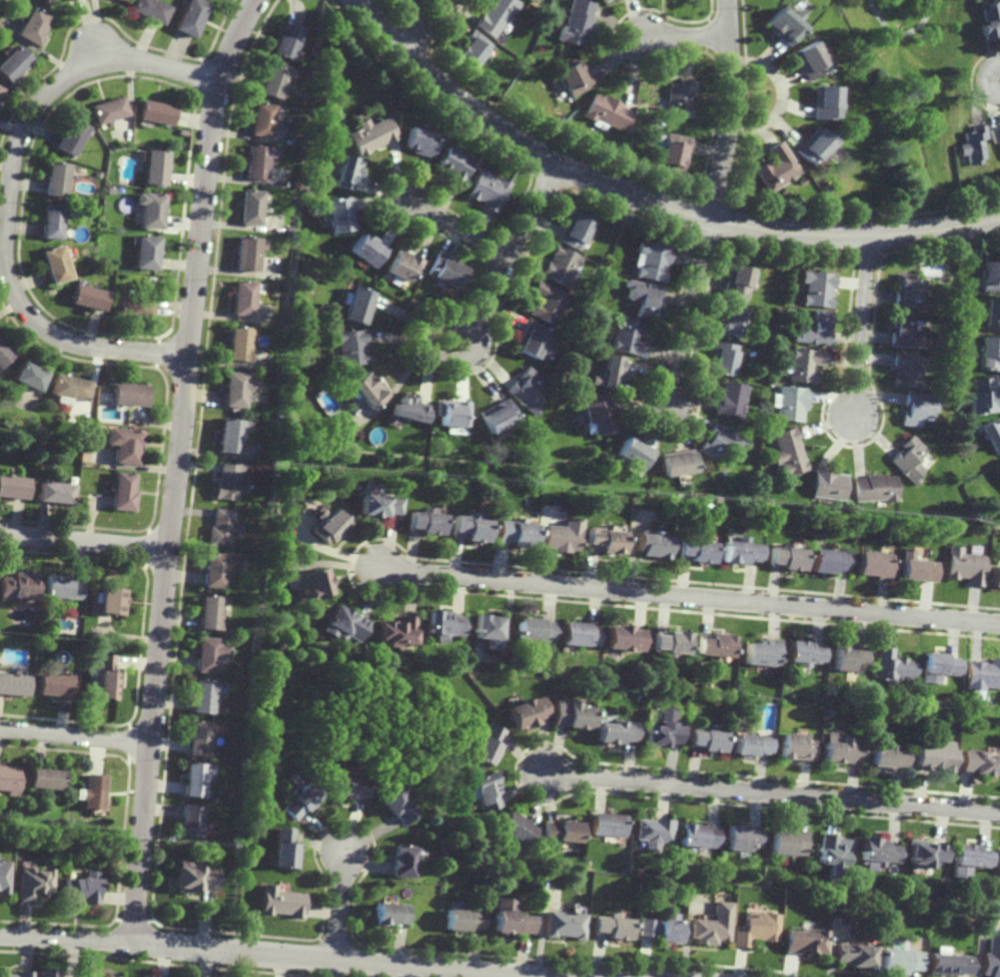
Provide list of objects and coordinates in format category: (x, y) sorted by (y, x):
building: (68, 0)
building: (121, 0)
building: (44, 1)
building: (603, 1)
building: (149, 9)
building: (497, 15)
building: (190, 16)
building: (989, 21)
building: (575, 23)
road: (425, 25)
building: (782, 25)
building: (32, 27)
road: (903, 34)
road: (688, 36)
building: (285, 41)
building: (473, 49)
building: (312, 53)
building: (807, 61)
building: (13, 63)
building: (573, 77)
building: (271, 80)
road: (990, 81)
building: (509, 85)
building: (0, 87)
building: (0, 89)
building: (306, 94)
building: (559, 95)
road: (779, 95)
building: (680, 99)
park: (912, 99)
building: (822, 102)
building: (106, 109)
building: (155, 111)
building: (562, 112)
building: (607, 114)
building: (673, 119)
building: (259, 120)
building: (672, 124)
building: (995, 134)
building: (69, 136)
building: (369, 136)
building: (301, 141)
building: (420, 142)
building: (812, 146)
building: (973, 146)
building: (673, 152)
building: (255, 162)
building: (455, 165)
building: (154, 167)
building: (776, 168)
building: (345, 174)
building: (55, 179)
building: (801, 182)
building: (825, 186)
building: (786, 188)
building: (304, 190)
building: (489, 192)
road: (9, 196)
road: (646, 201)
road: (713, 204)
building: (249, 208)
building: (149, 210)
building: (337, 216)
building: (52, 218)
road: (458, 229)
building: (289, 230)
building: (573, 232)
road: (514, 244)
building: (146, 252)
building: (366, 252)
building: (245, 255)
building: (55, 264)
building: (650, 264)
building: (404, 268)
building: (560, 268)
building: (448, 272)
building: (990, 278)
building: (736, 284)
building: (817, 289)
building: (908, 293)
building: (89, 297)
building: (241, 297)
building: (642, 301)
building: (546, 302)
building: (135, 303)
building: (357, 306)
building: (991, 317)
building: (272, 320)
building: (729, 320)
road: (861, 325)
building: (815, 328)
building: (903, 332)
building: (533, 337)
building: (626, 337)
building: (237, 341)
building: (349, 344)
building: (4, 353)
road: (428, 354)
building: (988, 354)
building: (721, 356)
building: (803, 363)
building: (907, 368)
building: (608, 370)
building: (572, 375)
building: (27, 376)
building: (235, 386)
building: (69, 387)
building: (368, 388)
building: (526, 389)
building: (127, 393)
building: (981, 393)
building: (730, 398)
building: (790, 402)
building: (408, 407)
building: (918, 407)
building: (452, 410)
building: (496, 413)
building: (594, 413)
building: (229, 433)
building: (992, 433)
building: (718, 439)
building: (123, 444)
building: (630, 450)
building: (786, 450)
building: (908, 458)
building: (674, 460)
building: (924, 460)
road: (177, 465)
building: (998, 469)
building: (230, 479)
building: (827, 483)
building: (14, 486)
building: (874, 487)
building: (56, 491)
building: (123, 492)
building: (376, 503)
building: (423, 520)
building: (328, 524)
building: (469, 525)
building: (222, 527)
building: (516, 531)
building: (558, 537)
building: (599, 538)
road: (84, 544)
building: (649, 544)
building: (692, 549)
building: (736, 550)
building: (784, 557)
building: (827, 560)
building: (873, 564)
building: (964, 565)
building: (215, 569)
building: (917, 569)
building: (995, 576)
building: (314, 581)
building: (22, 584)
building: (65, 586)
road: (687, 597)
building: (112, 600)
building: (211, 612)
building: (341, 624)
building: (443, 624)
building: (533, 629)
building: (488, 630)
building: (397, 631)
building: (575, 634)
building: (622, 638)
building: (668, 642)
building: (713, 645)
building: (760, 653)
building: (803, 653)
building: (210, 654)
building: (849, 658)
building: (891, 666)
building: (937, 666)
building: (982, 674)
building: (108, 676)
building: (54, 682)
building: (13, 683)
building: (786, 689)
building: (833, 691)
building: (206, 695)
building: (526, 712)
building: (569, 715)
building: (614, 732)
building: (660, 735)
building: (199, 738)
road: (75, 739)
building: (706, 739)
building: (487, 744)
building: (749, 745)
building: (796, 747)
building: (841, 751)
building: (931, 755)
building: (885, 757)
building: (976, 764)
building: (8, 779)
building: (44, 780)
building: (195, 781)
building: (346, 787)
building: (486, 792)
building: (92, 793)
building: (252, 793)
road: (771, 793)
building: (298, 801)
building: (395, 804)
building: (192, 822)
building: (52, 826)
building: (605, 826)
building: (515, 831)
building: (560, 832)
building: (652, 833)
building: (697, 837)
building: (742, 838)
building: (788, 843)
building: (832, 850)
building: (281, 852)
building: (876, 852)
building: (923, 854)
building: (965, 860)
building: (404, 862)
building: (997, 863)
building: (4, 878)
building: (193, 879)
building: (34, 885)
building: (81, 890)
building: (280, 904)
road: (340, 905)
building: (390, 913)
building: (508, 918)
building: (466, 919)
building: (561, 927)
building: (712, 927)
building: (610, 929)
building: (660, 929)
building: (757, 930)
building: (804, 942)
road: (268, 953)
building: (853, 957)
building: (991, 959)
building: (899, 961)
building: (947, 964)
building: (44, 972)
building: (17, 973)
building: (108, 975)
road: (656, 976)

